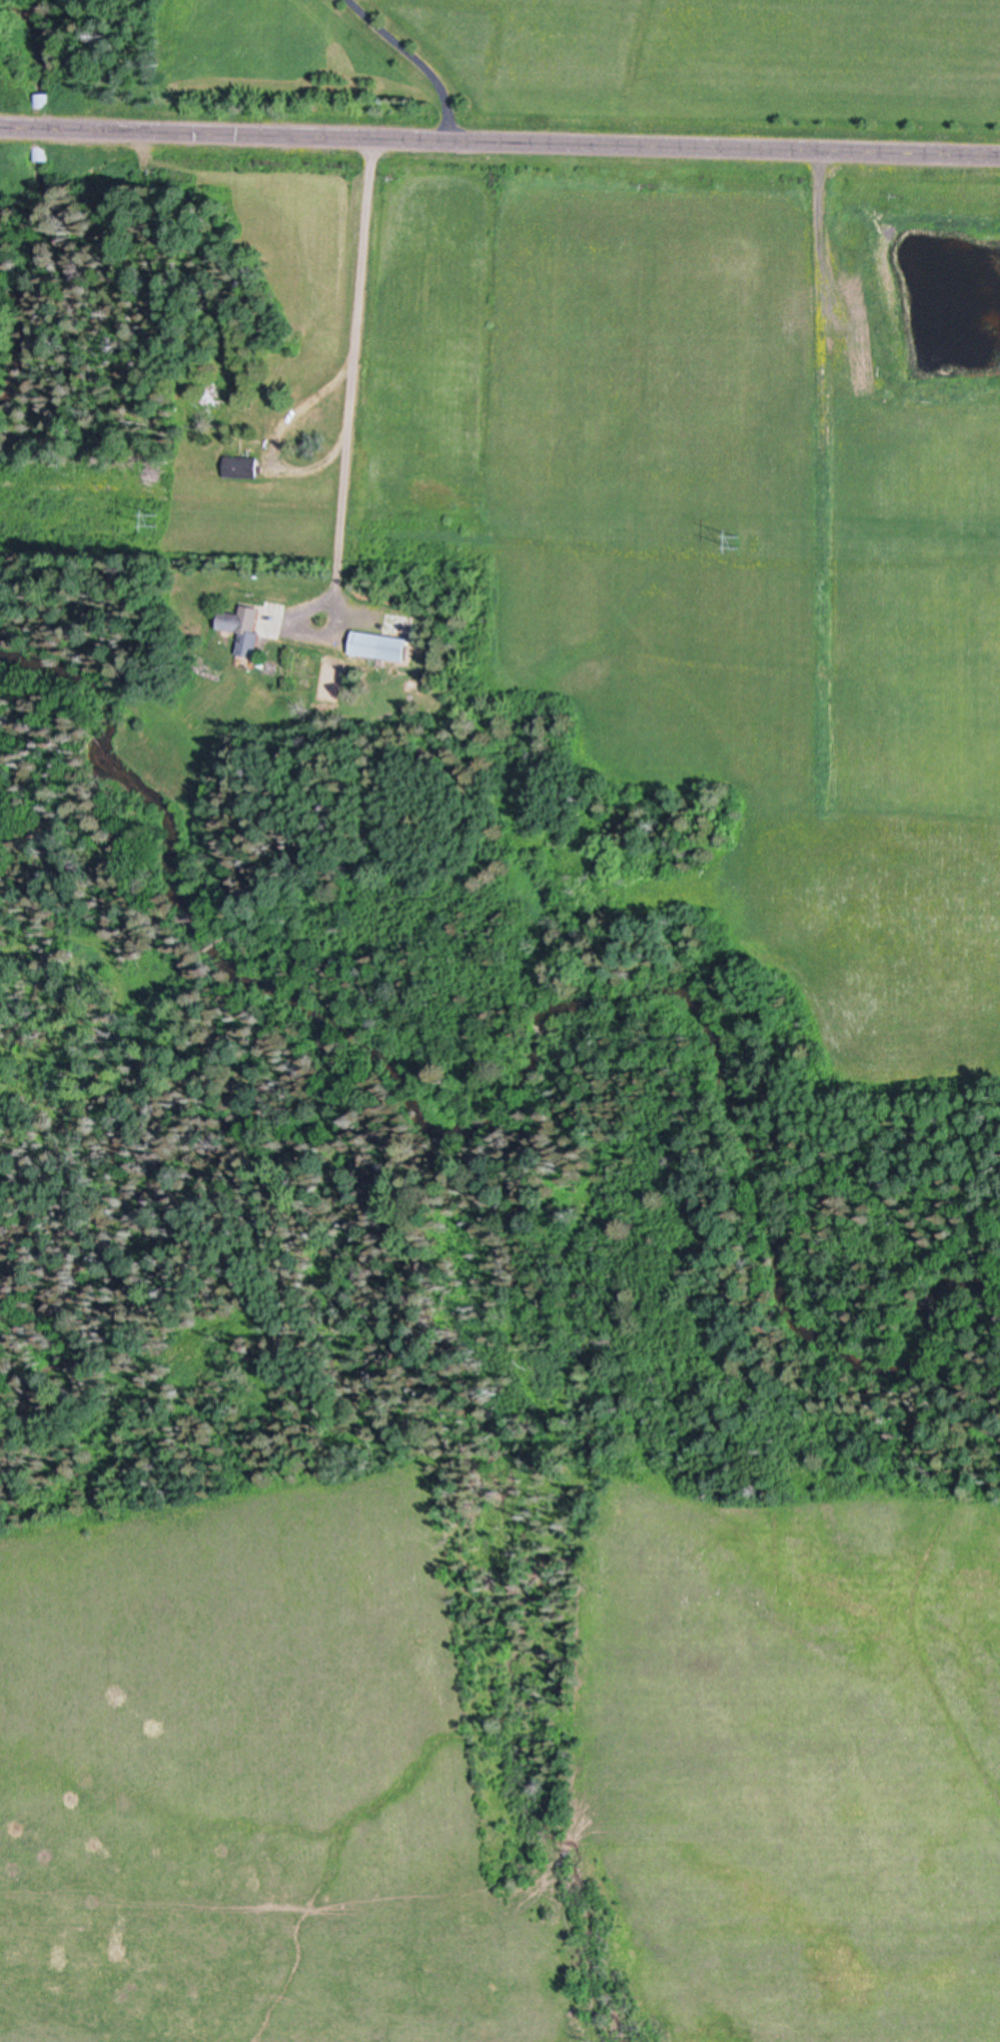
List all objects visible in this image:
river: (45, 44)
road: (416, 61)
building: (42, 102)
river: (43, 127)
road: (499, 143)
river: (37, 290)
road: (353, 384)
building: (229, 400)
building: (244, 466)
power tower: (165, 523)
power tower: (753, 545)
building: (401, 625)
building: (248, 628)
building: (383, 646)
river: (110, 784)
river: (681, 1016)

